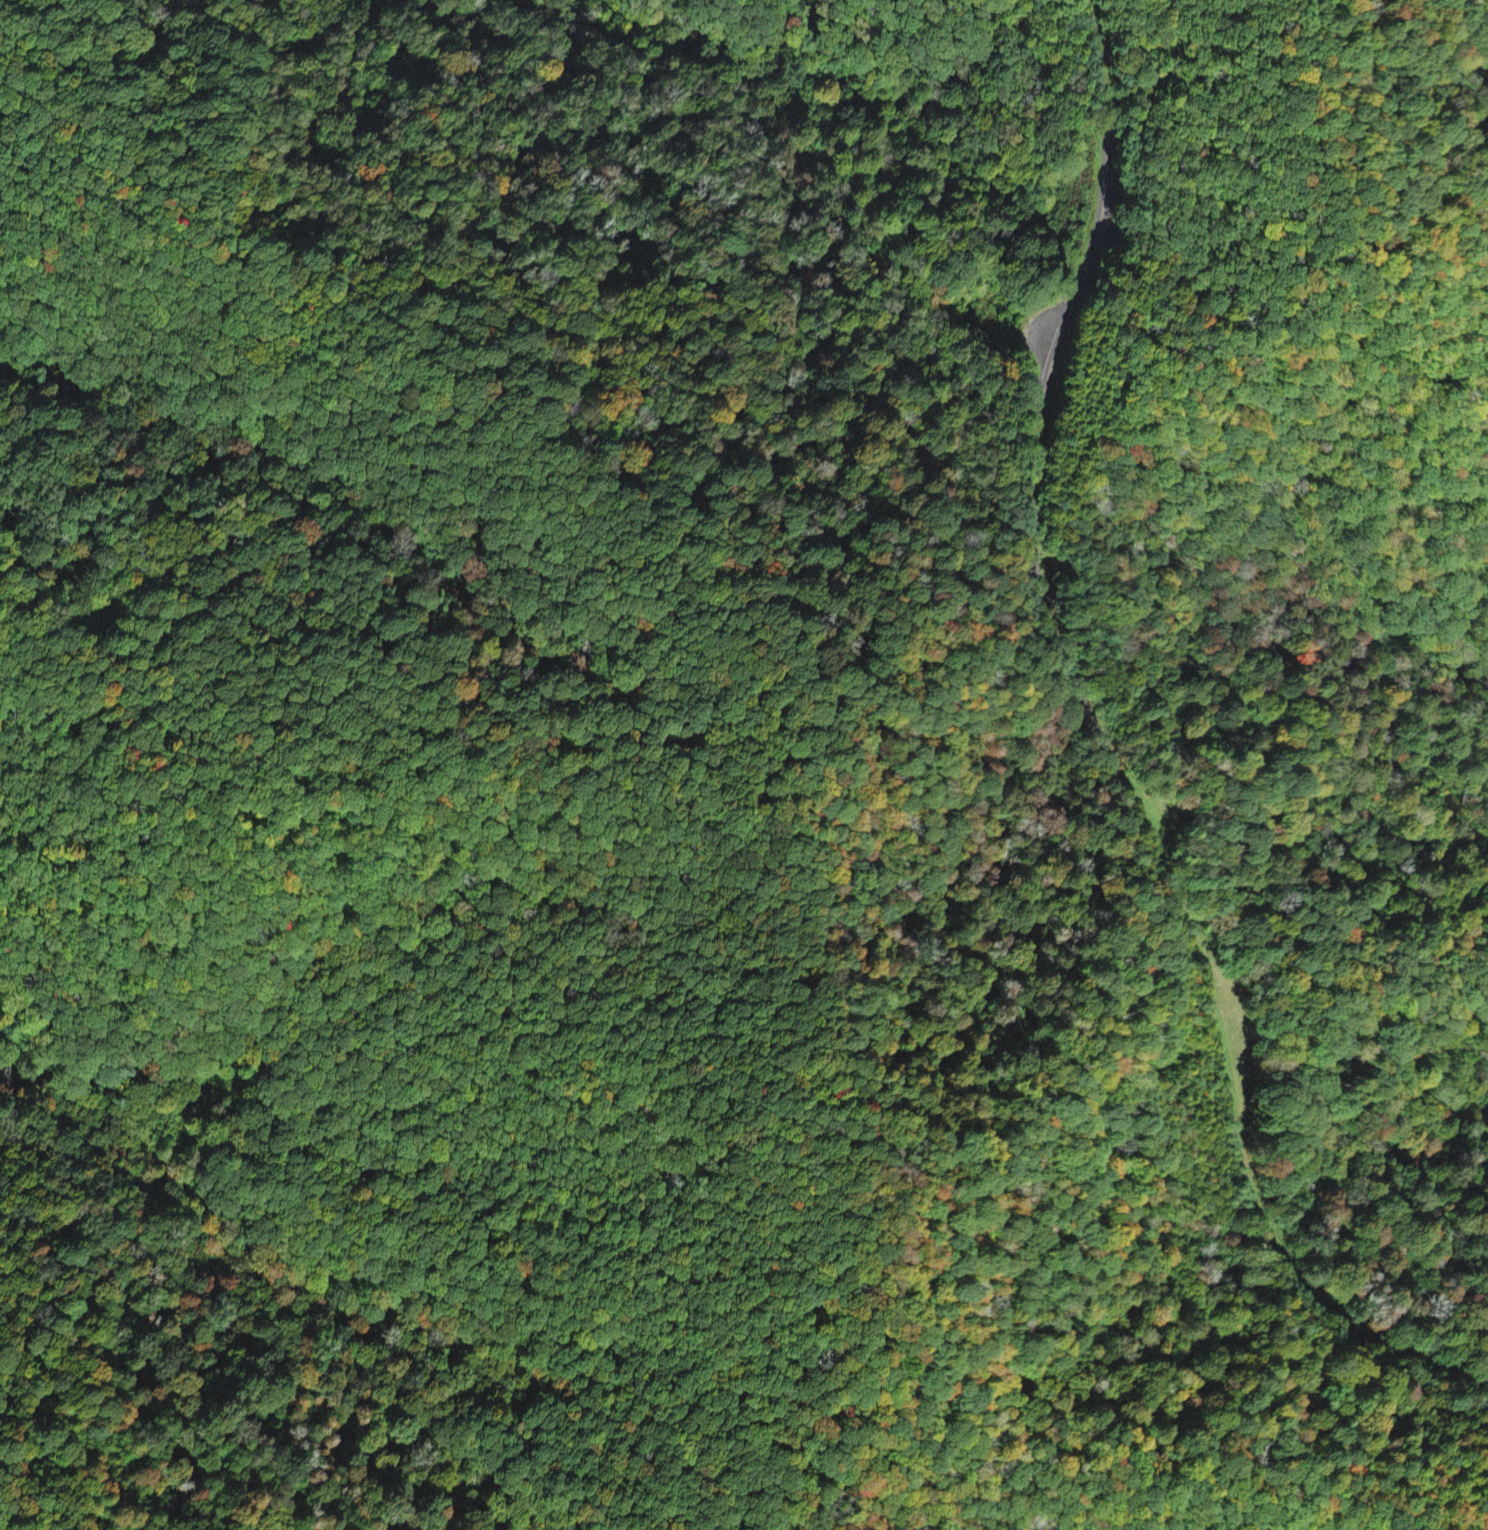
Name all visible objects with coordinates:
parking lot: (1044, 338)
road: (1037, 339)
road: (1109, 757)

